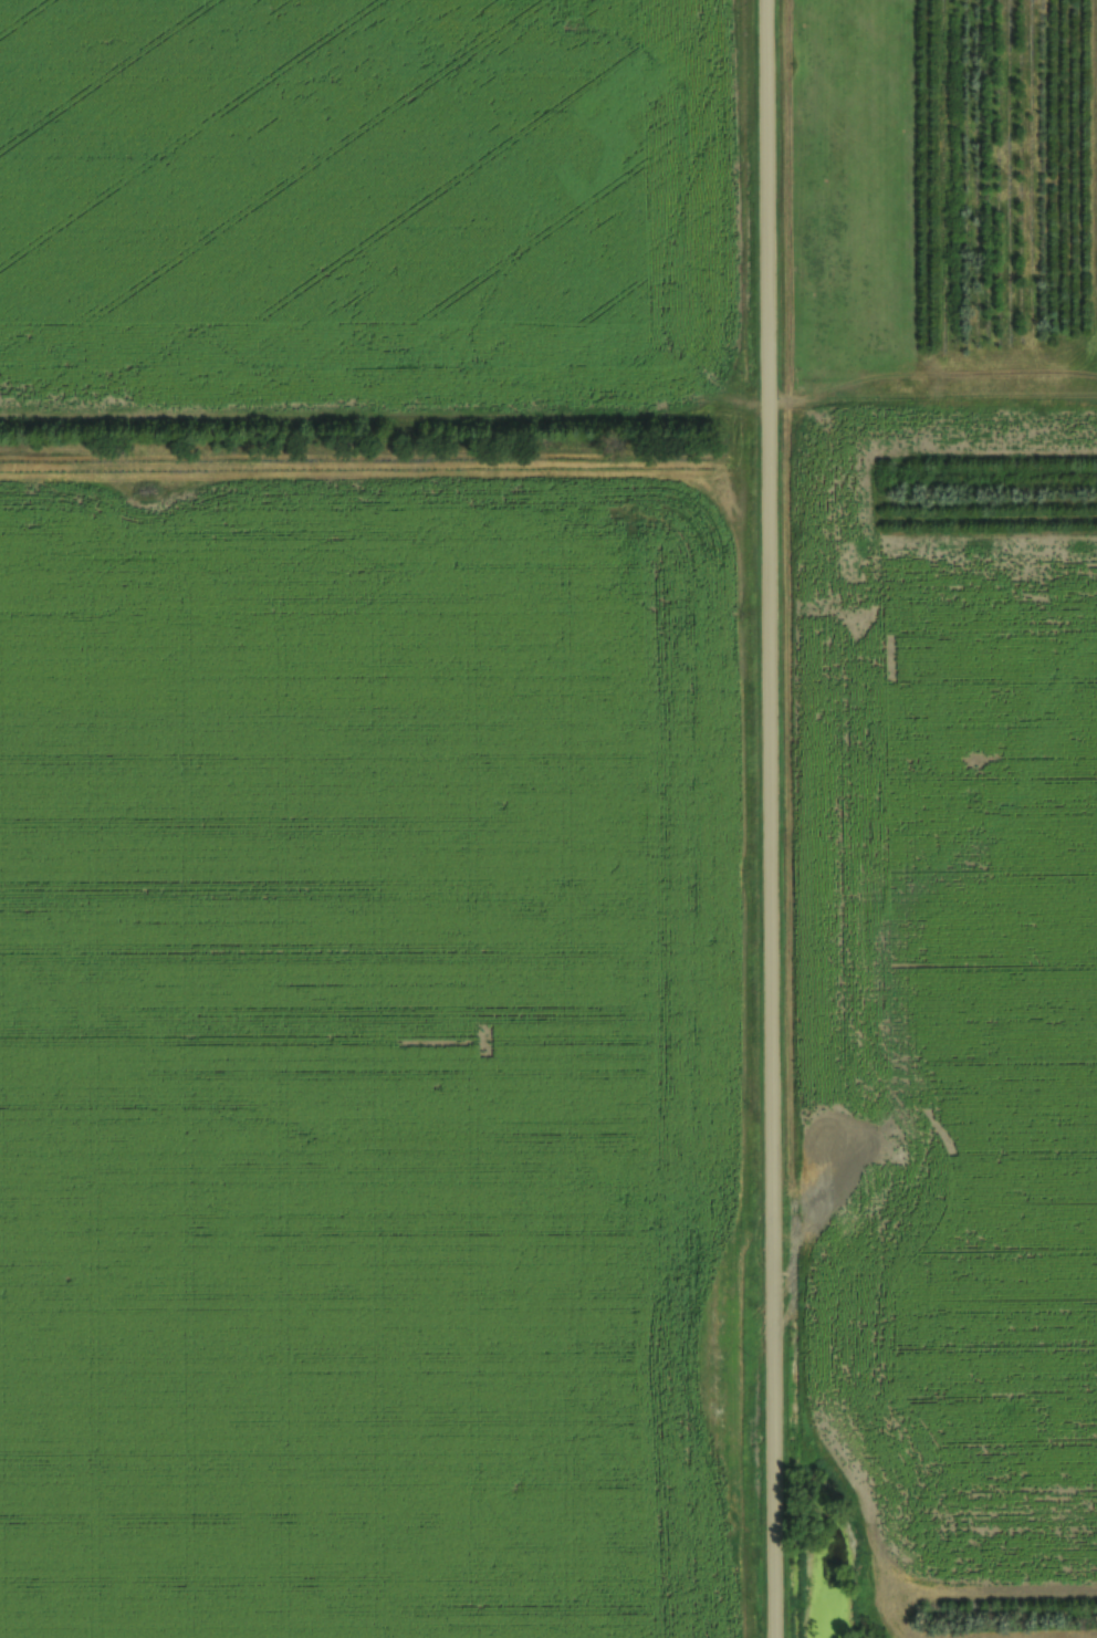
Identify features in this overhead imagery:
road: (548, 394)
road: (772, 818)

